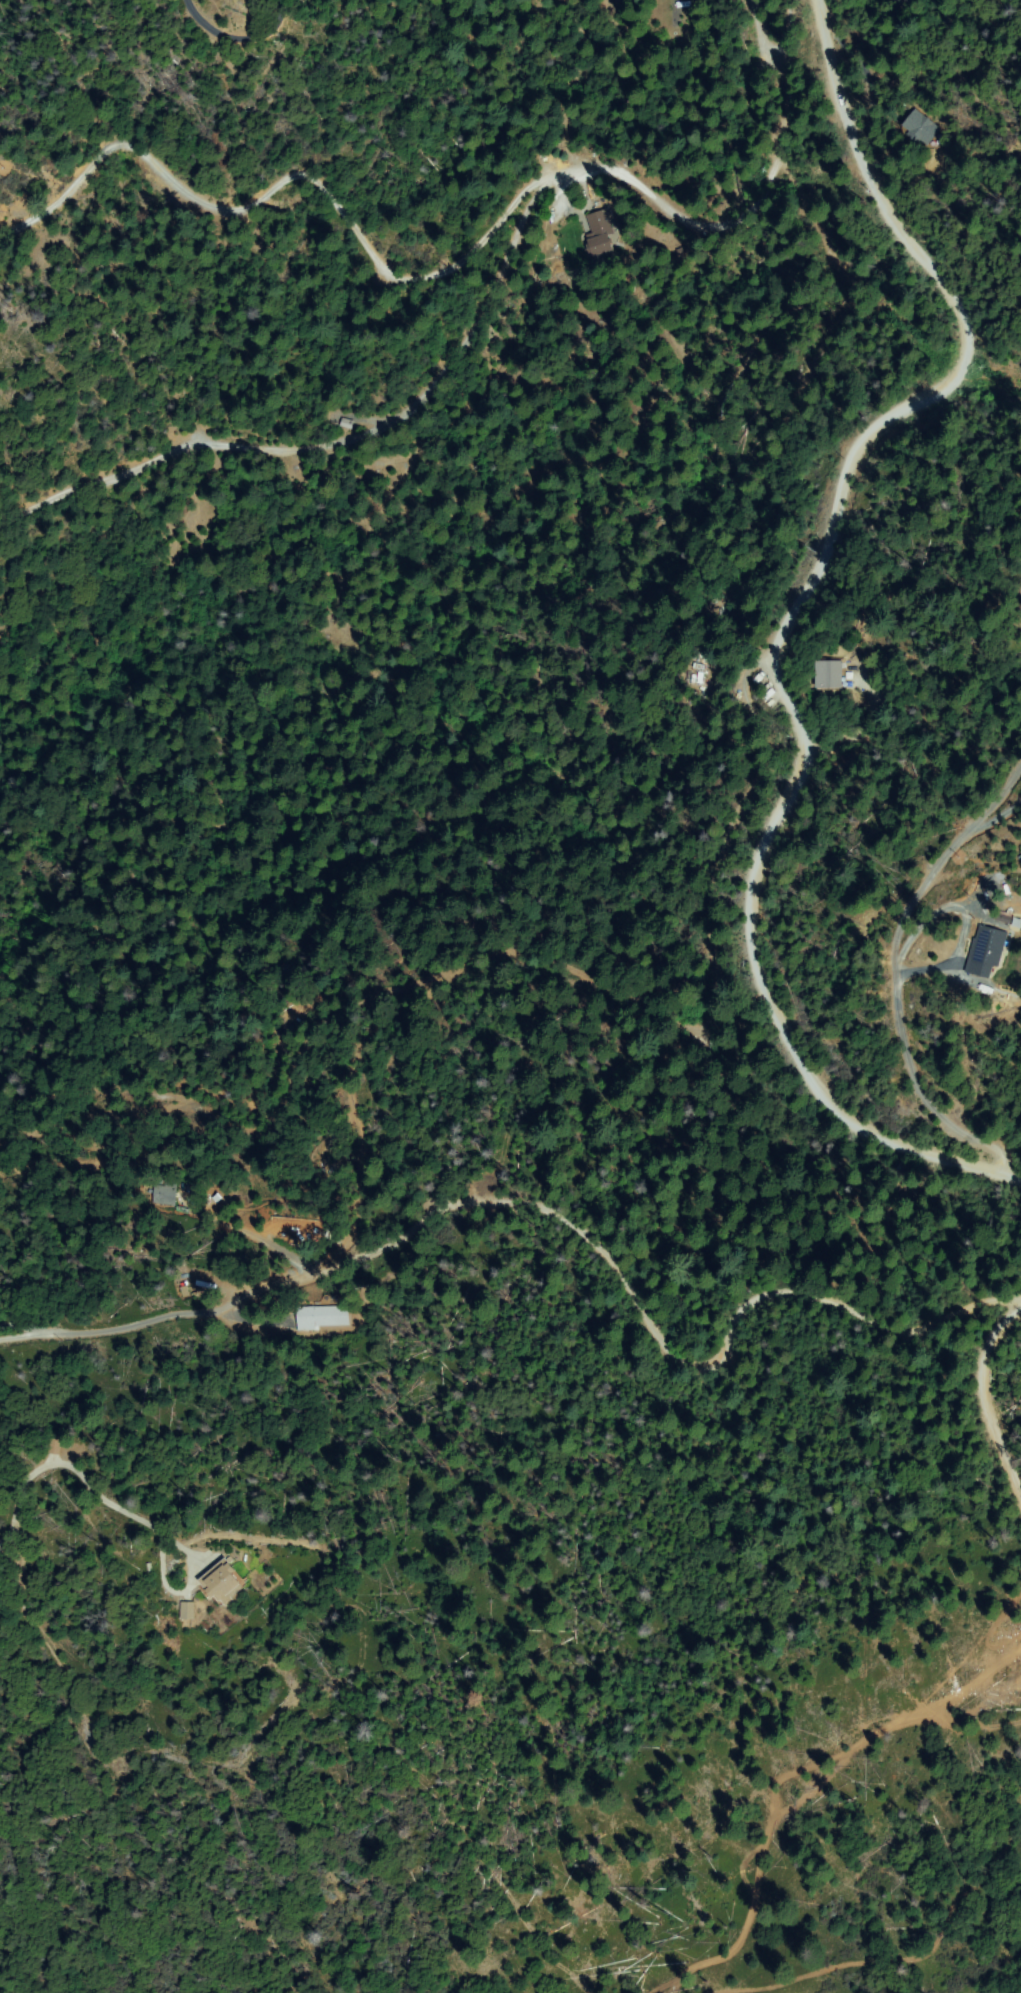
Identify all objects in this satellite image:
building: (901, 1)
building: (684, 5)
building: (920, 129)
road: (507, 187)
building: (597, 204)
building: (599, 233)
building: (680, 251)
building: (347, 424)
road: (794, 615)
building: (828, 674)
road: (636, 803)
building: (1001, 917)
building: (985, 953)
building: (166, 1193)
road: (531, 1220)
road: (266, 1282)
road: (1014, 1306)
building: (321, 1317)
road: (1009, 1366)
building: (52, 1448)
building: (147, 1568)
building: (222, 1583)
building: (188, 1611)

